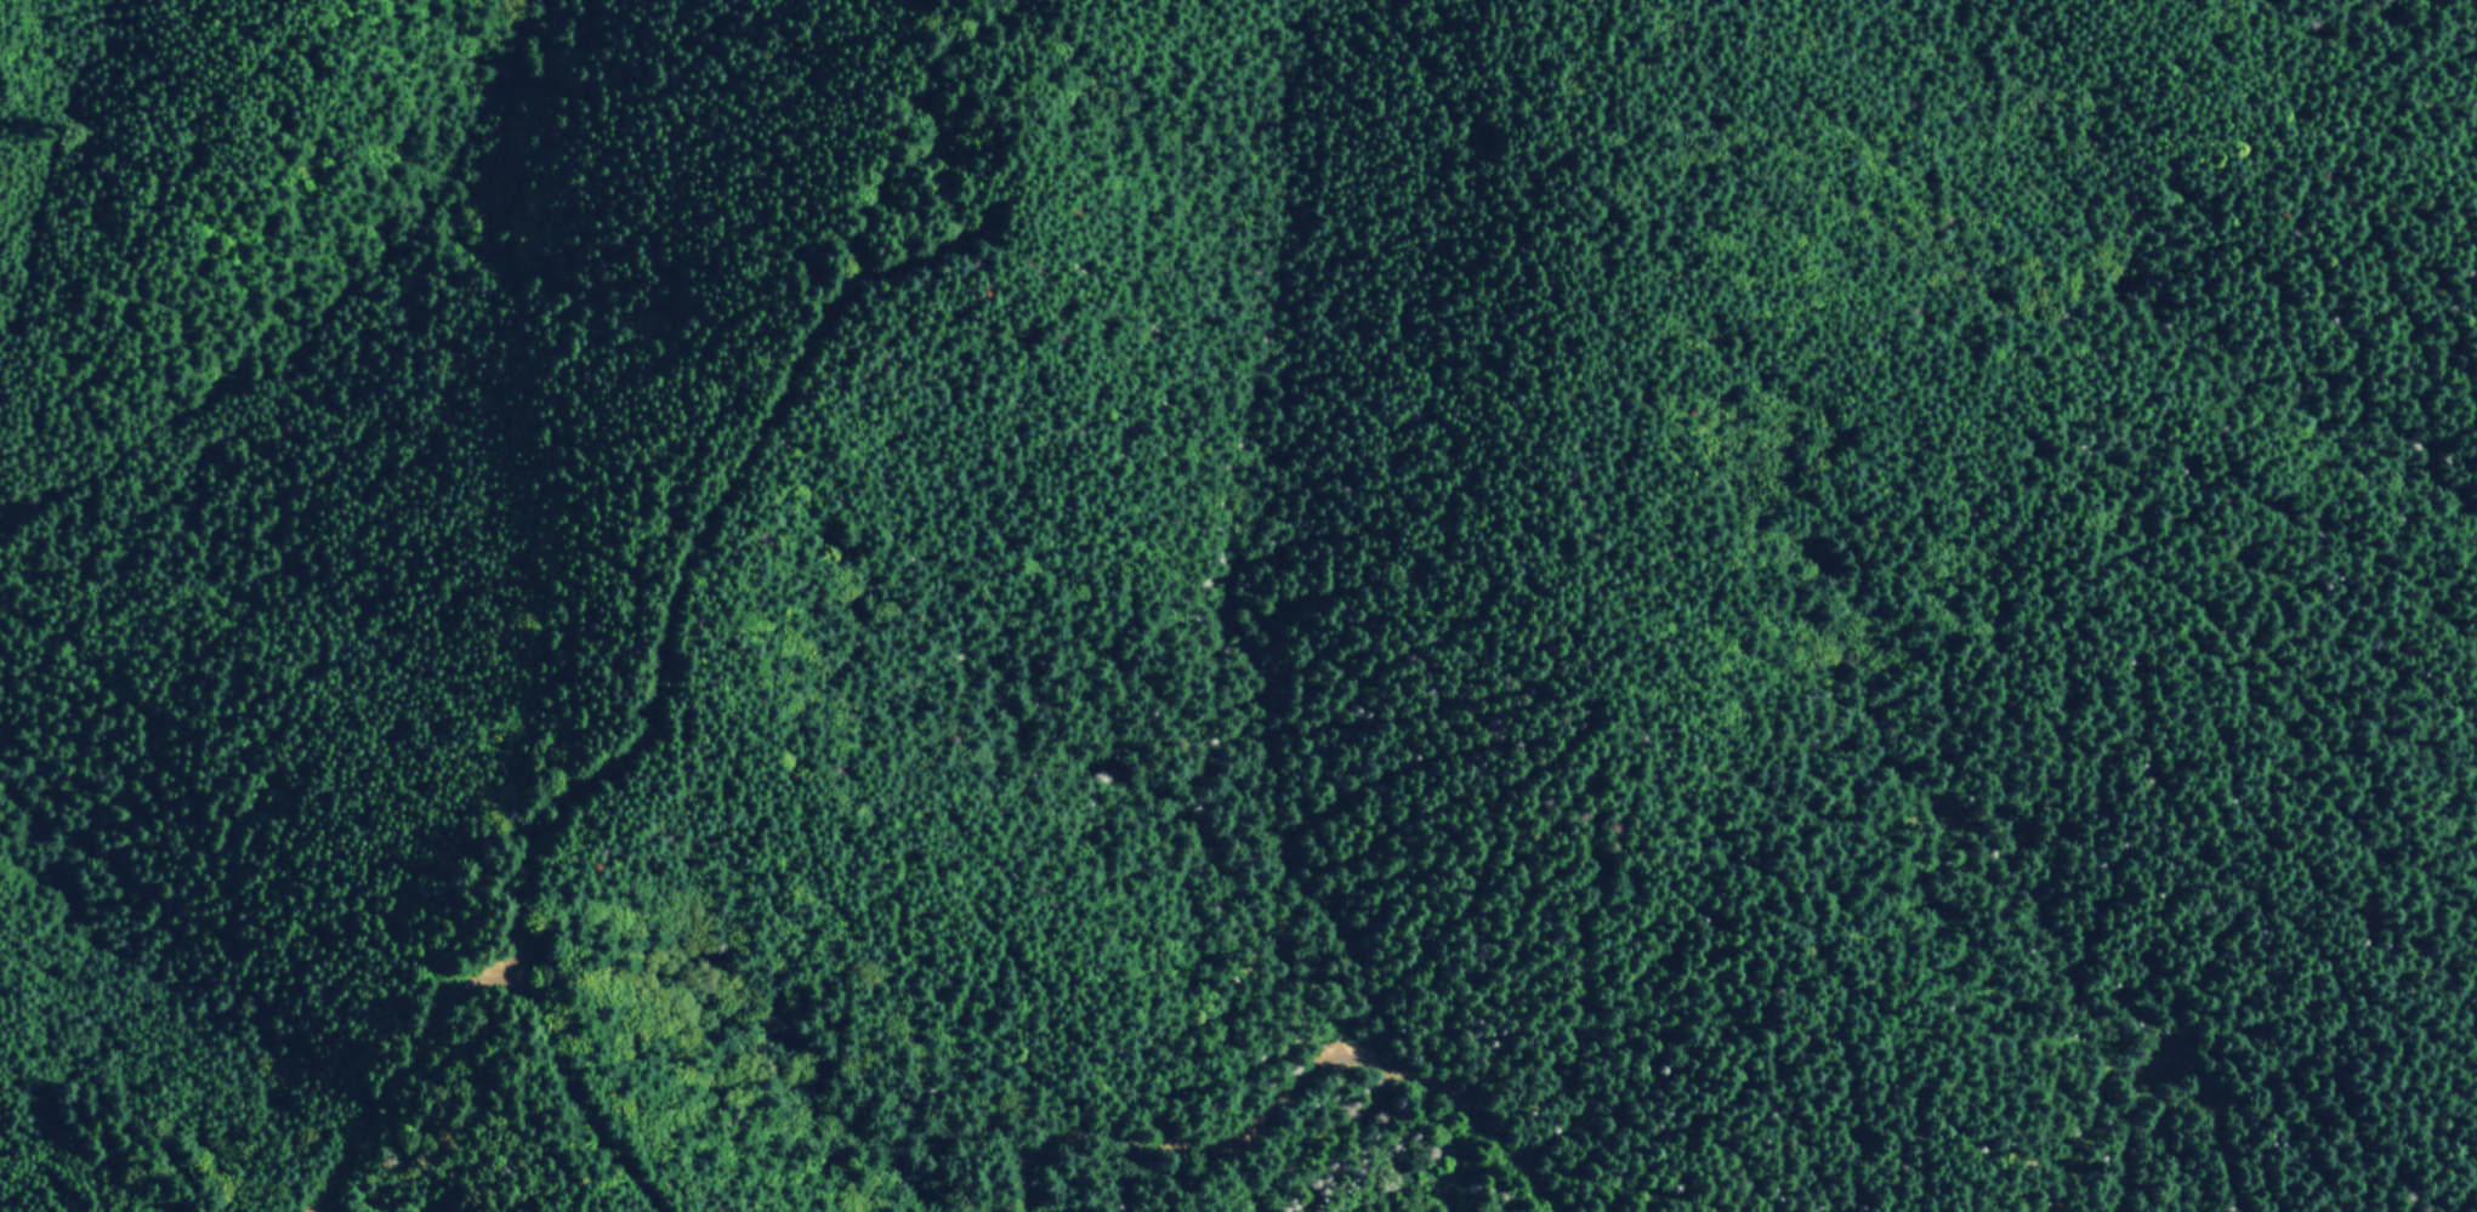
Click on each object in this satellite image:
road: (669, 598)
road: (2165, 1064)
road: (400, 1072)
road: (1289, 1085)

